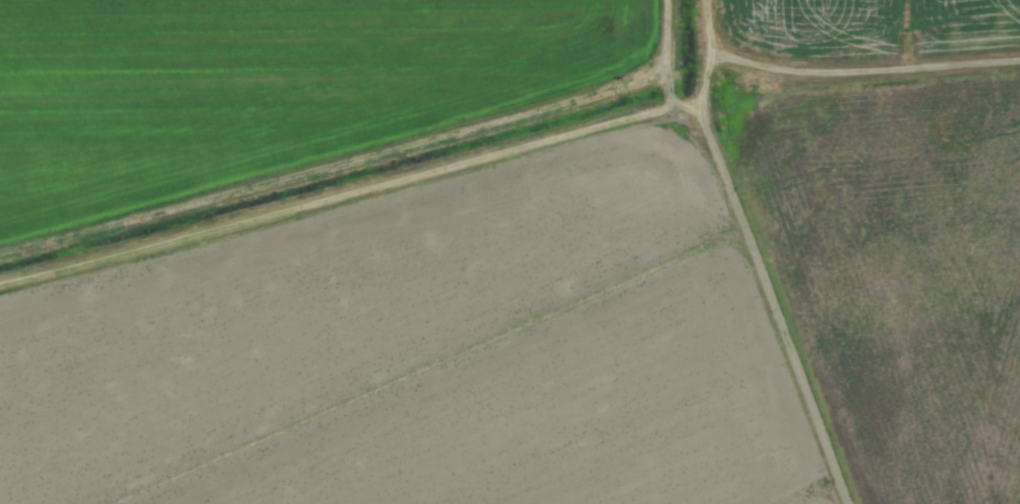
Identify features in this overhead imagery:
road: (863, 71)
crop: (510, 252)

